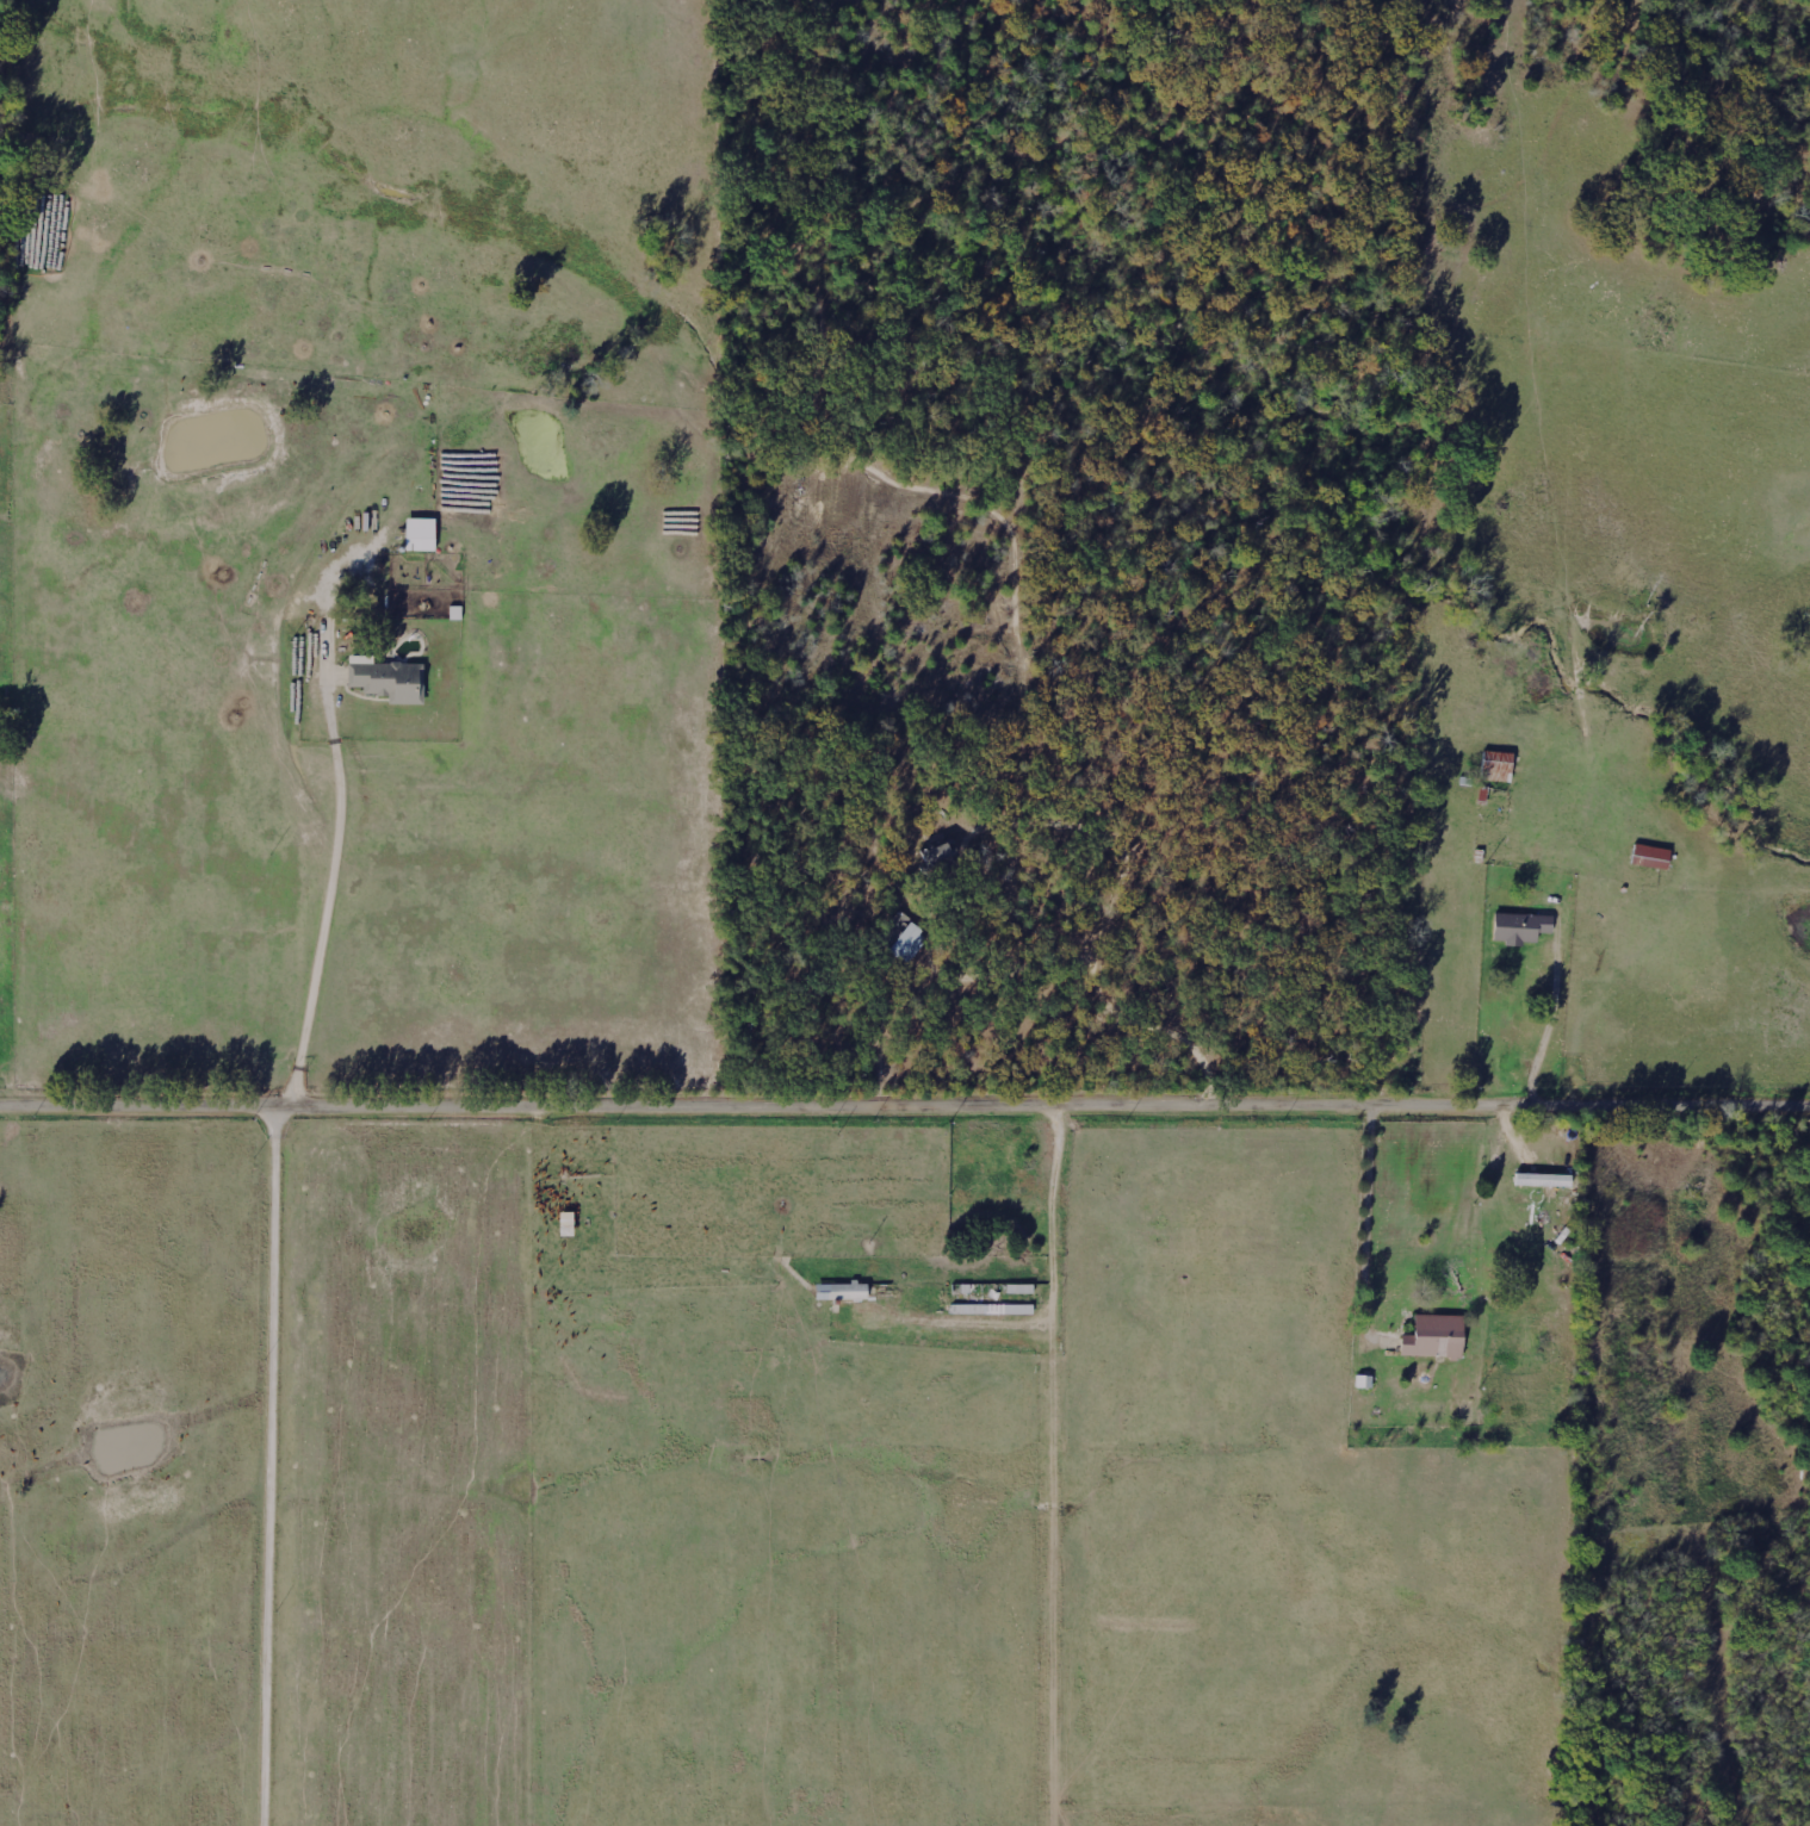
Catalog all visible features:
building: (421, 534)
building: (390, 681)
building: (1498, 765)
building: (1651, 856)
building: (1520, 926)
road: (1544, 1019)
road: (904, 1108)
building: (1544, 1179)
building: (841, 1291)
building: (1434, 1336)
building: (1364, 1381)
road: (274, 1467)
road: (1518, 1467)

